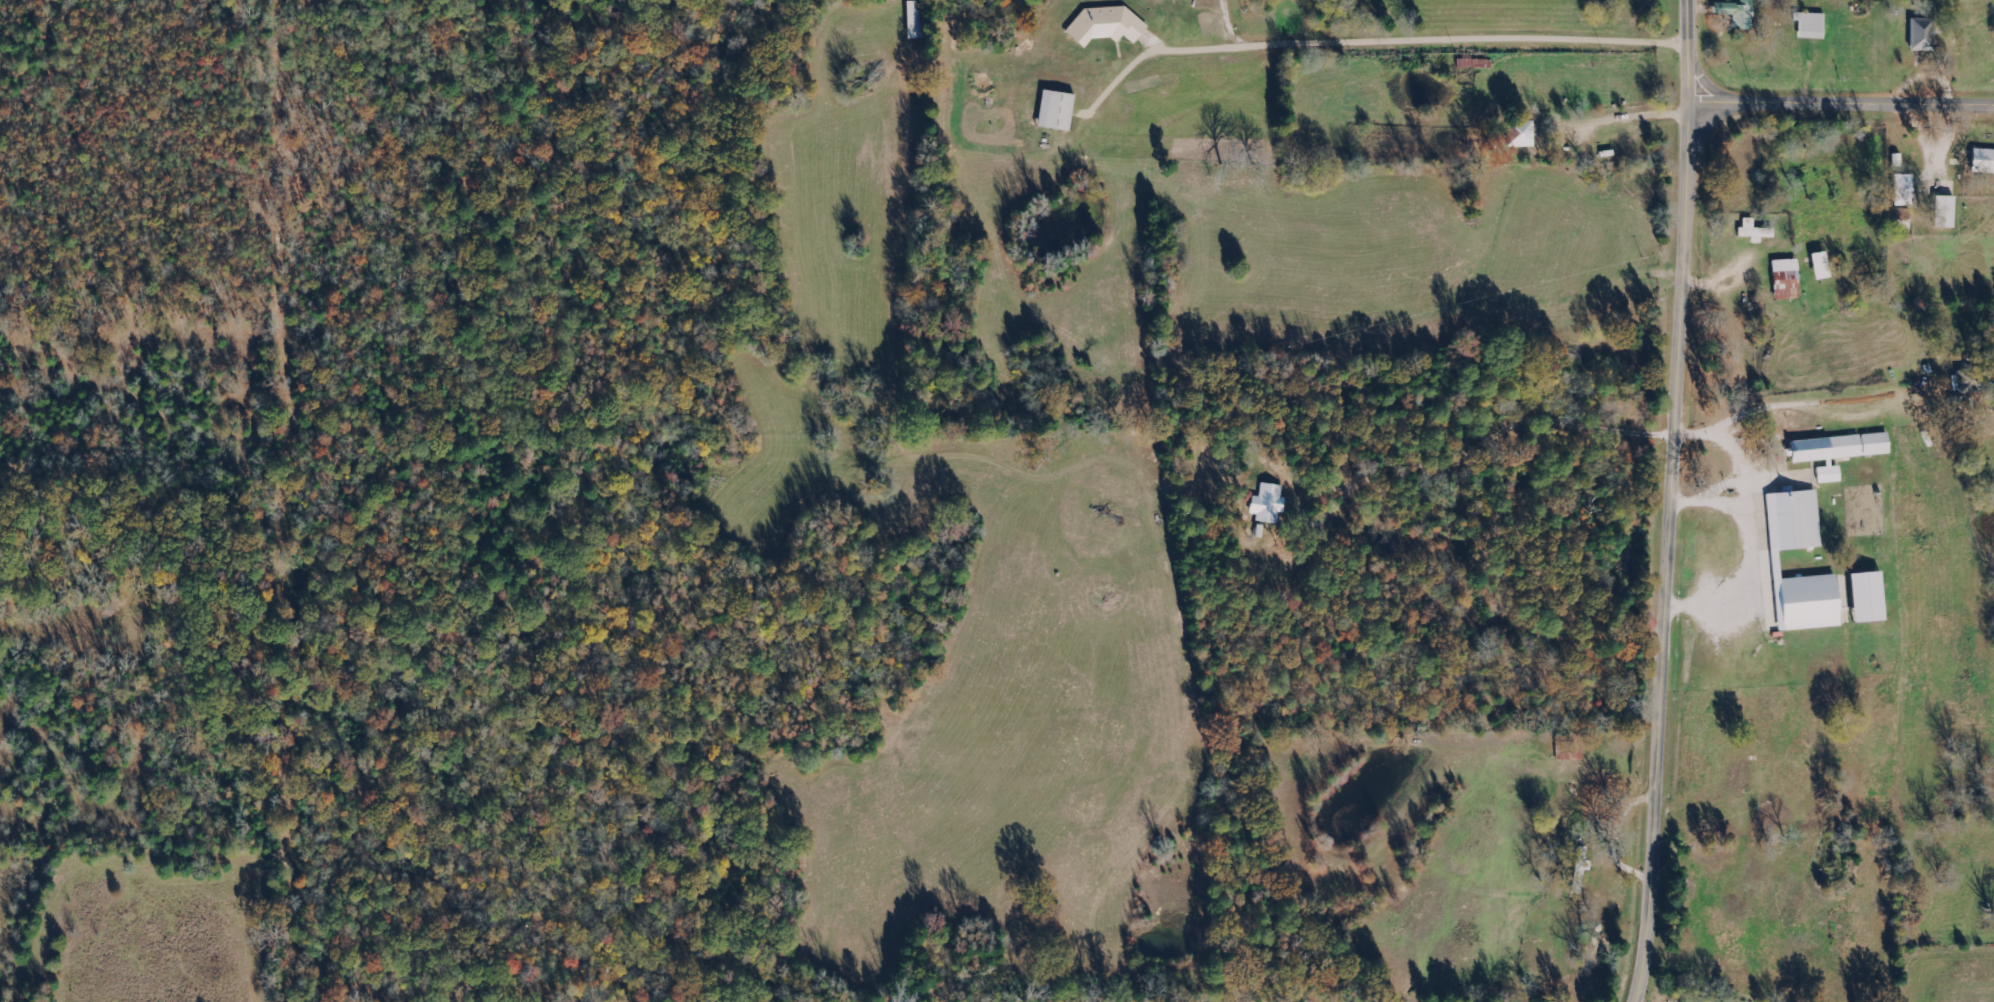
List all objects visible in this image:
building: (1735, 14)
building: (1103, 26)
building: (1808, 27)
road: (1442, 36)
building: (1917, 40)
road: (1205, 47)
road: (1687, 52)
building: (1053, 111)
building: (1518, 137)
building: (1982, 162)
building: (1900, 192)
building: (1941, 213)
building: (1752, 233)
building: (1817, 267)
building: (1783, 281)
road: (1675, 400)
building: (1834, 452)
building: (1267, 504)
building: (1768, 564)
road: (1786, 591)
building: (1864, 598)
building: (1568, 751)

